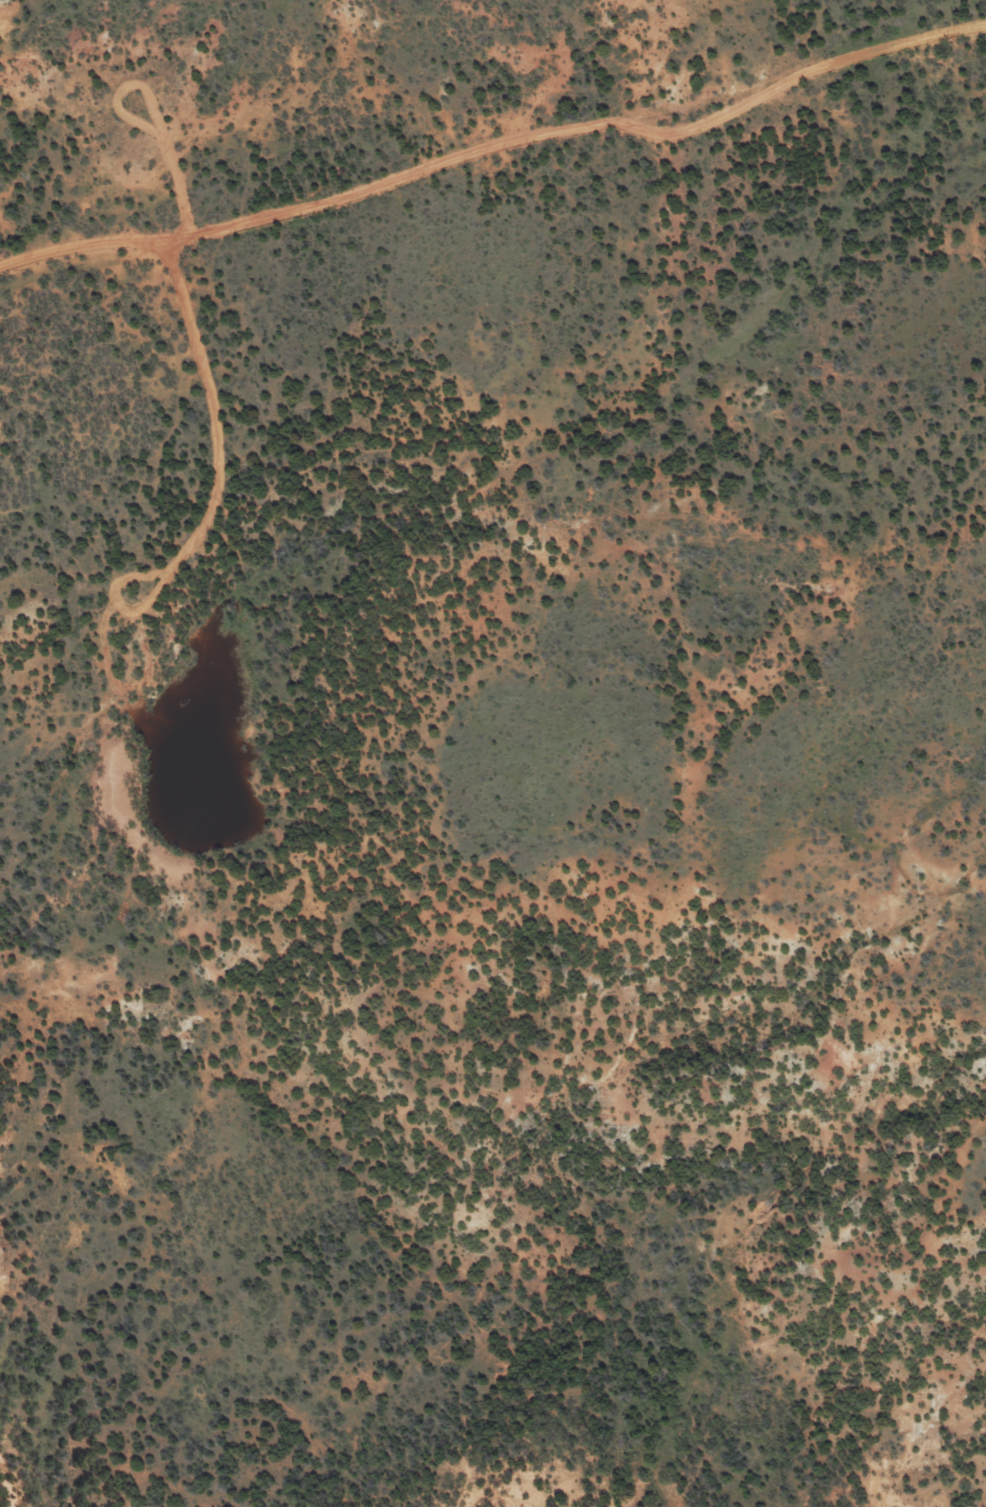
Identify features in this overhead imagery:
road: (494, 167)

